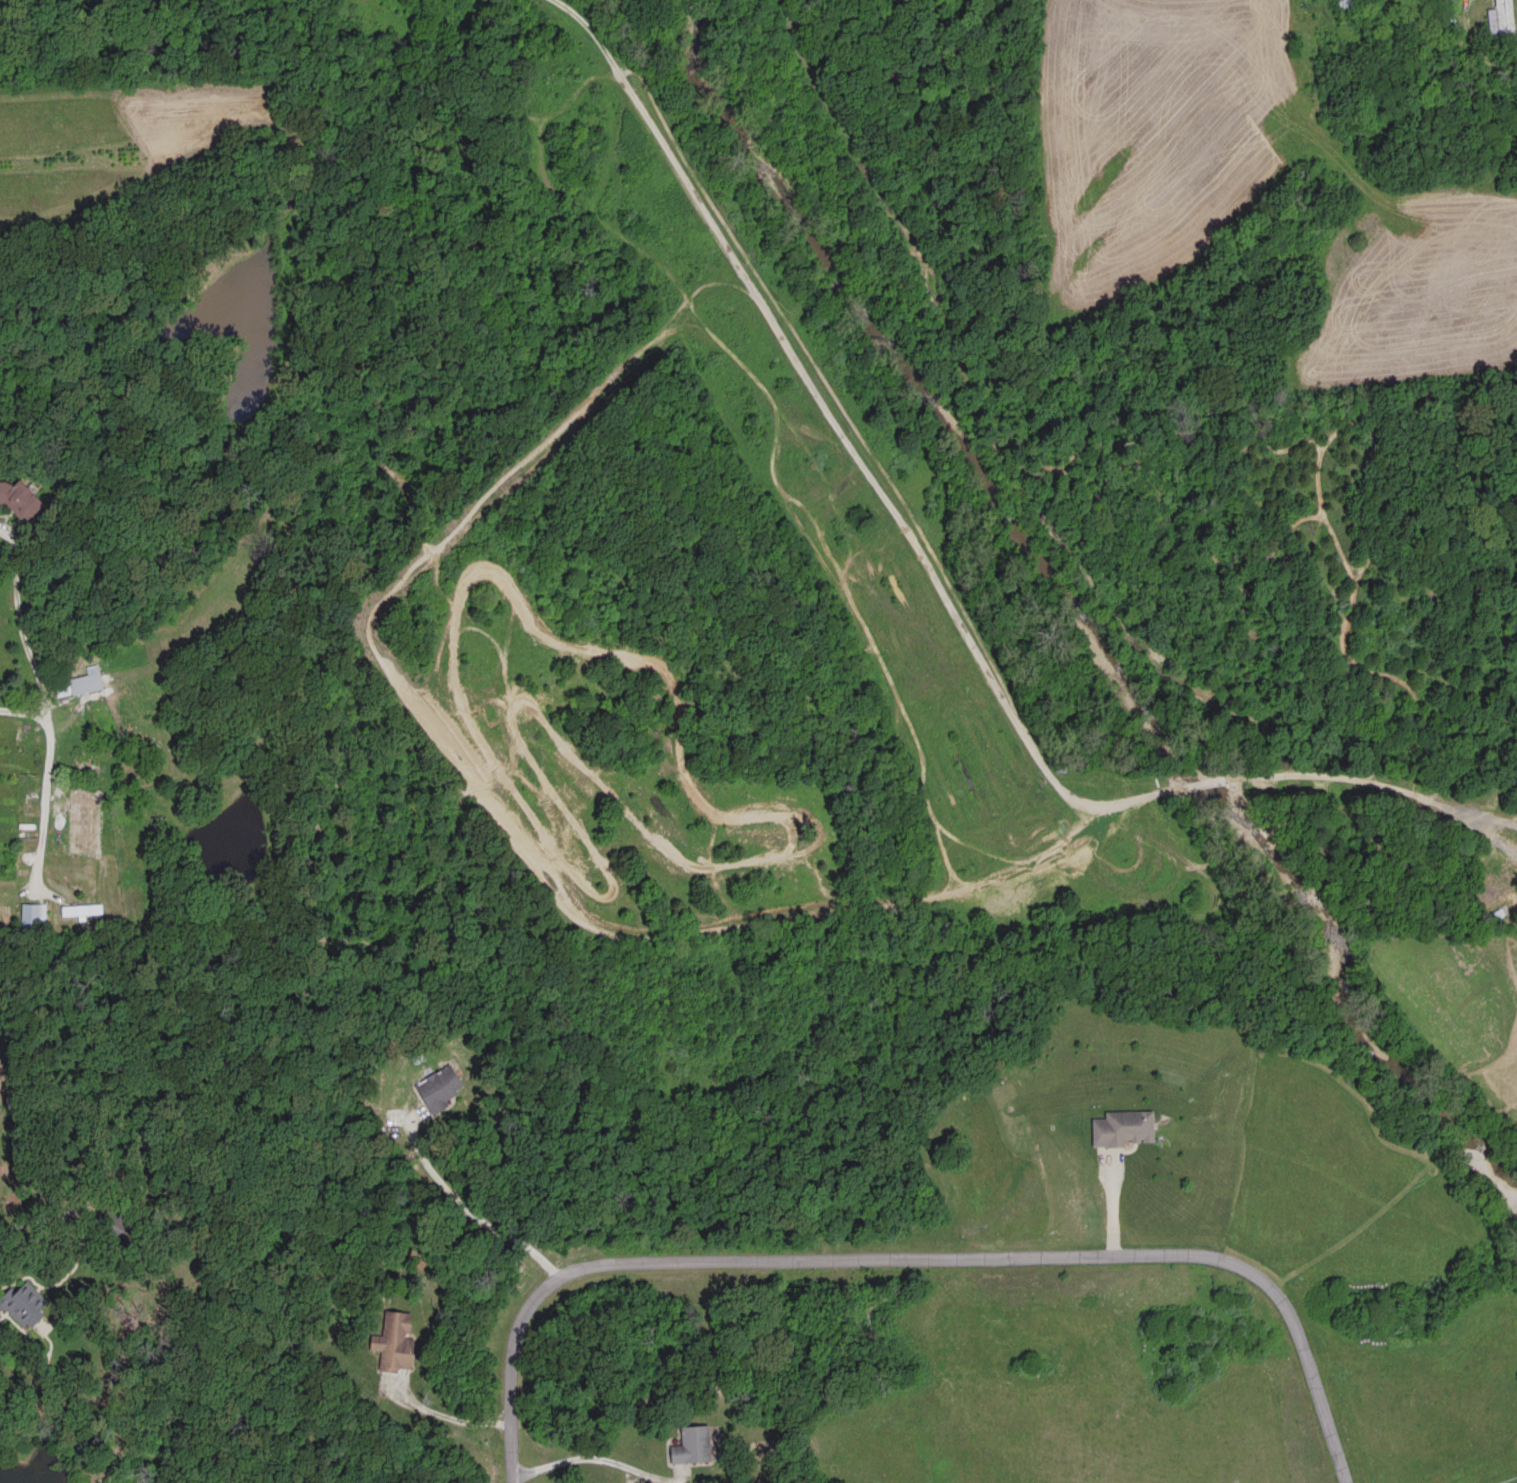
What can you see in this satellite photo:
building: (1503, 17)
road: (1476, 45)
building: (22, 495)
road: (21, 628)
building: (83, 681)
building: (1060, 761)
road: (44, 787)
road: (1295, 788)
road: (1066, 813)
building: (80, 907)
road: (889, 912)
building: (32, 913)
building: (441, 1086)
building: (1127, 1125)
road: (469, 1209)
road: (1112, 1210)
road: (908, 1255)
building: (24, 1301)
building: (395, 1338)
road: (448, 1415)
building: (694, 1442)
road: (593, 1455)

